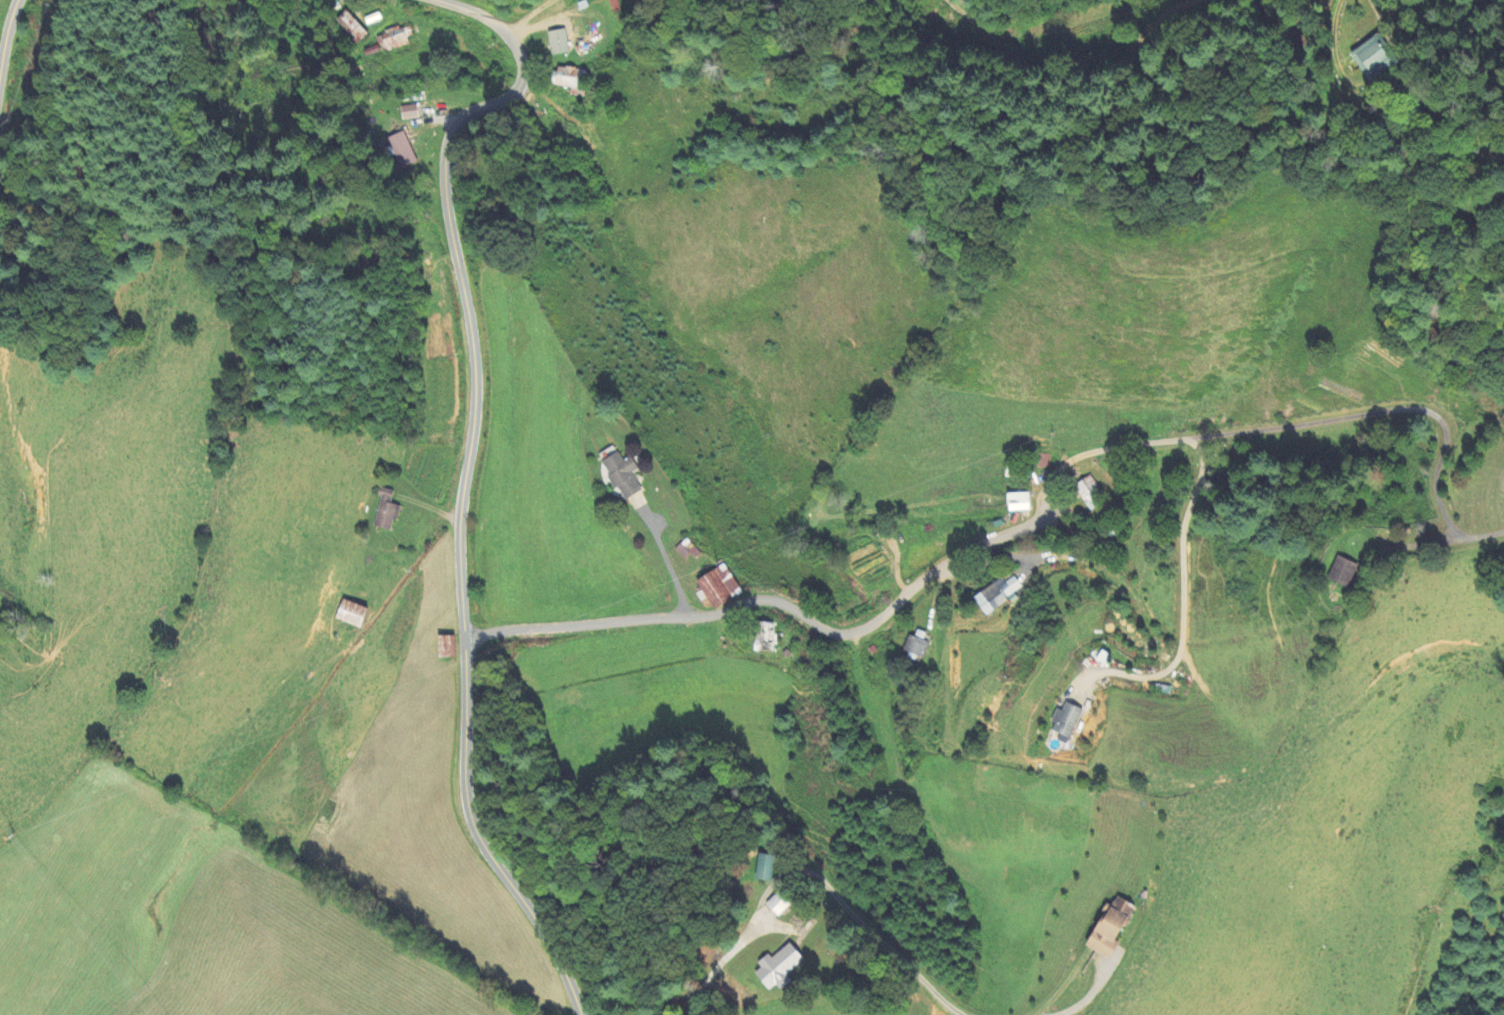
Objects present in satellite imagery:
building: (351, 27)
road: (5, 33)
building: (393, 41)
building: (558, 42)
building: (1372, 59)
building: (571, 80)
building: (409, 113)
building: (401, 150)
building: (621, 476)
road: (463, 477)
building: (1090, 494)
building: (1018, 503)
building: (385, 511)
road: (1010, 532)
building: (684, 552)
road: (666, 560)
building: (1342, 573)
building: (718, 588)
building: (997, 594)
road: (1121, 594)
building: (351, 614)
building: (764, 638)
building: (915, 647)
building: (446, 648)
building: (1066, 721)
building: (763, 870)
building: (775, 908)
building: (1110, 930)
road: (872, 931)
road: (719, 964)
building: (777, 969)
road: (1090, 997)

